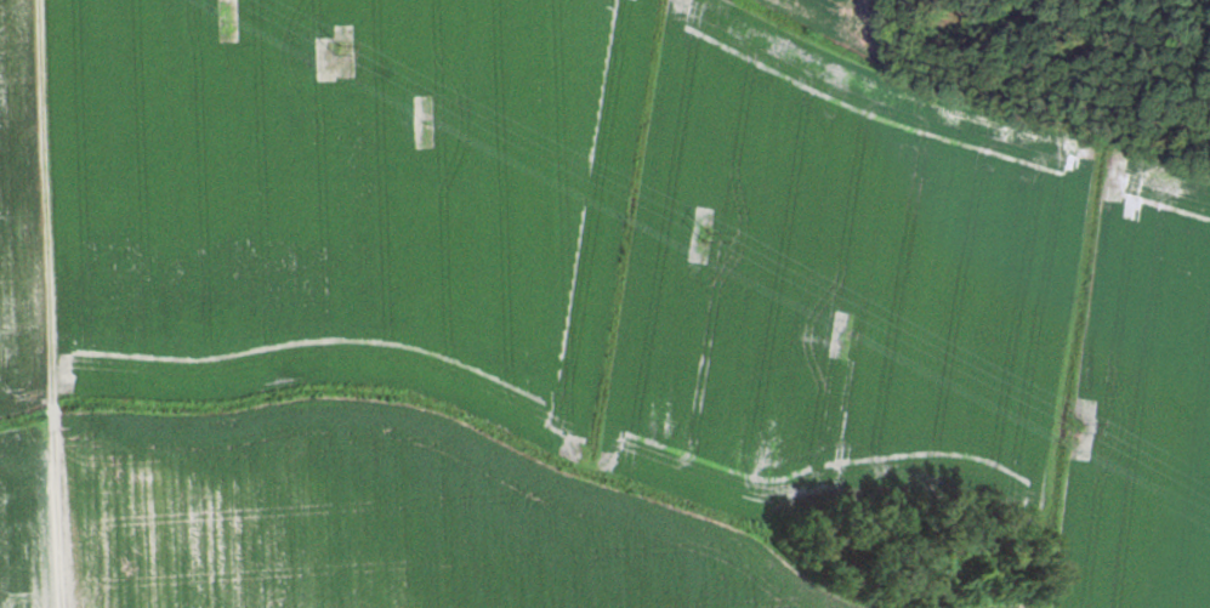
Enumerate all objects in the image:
power tower: (337, 47)
power tower: (709, 237)
power tower: (1081, 426)

